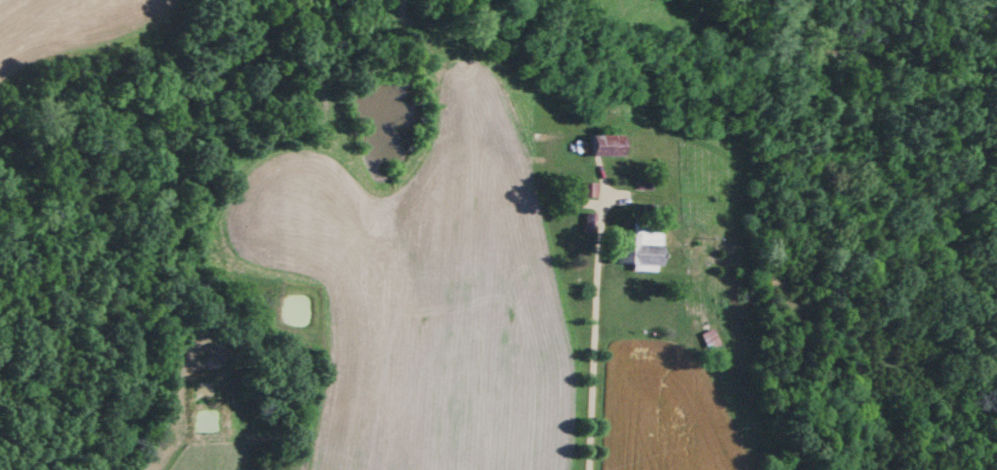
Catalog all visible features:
building: (634, 248)
building: (707, 341)

